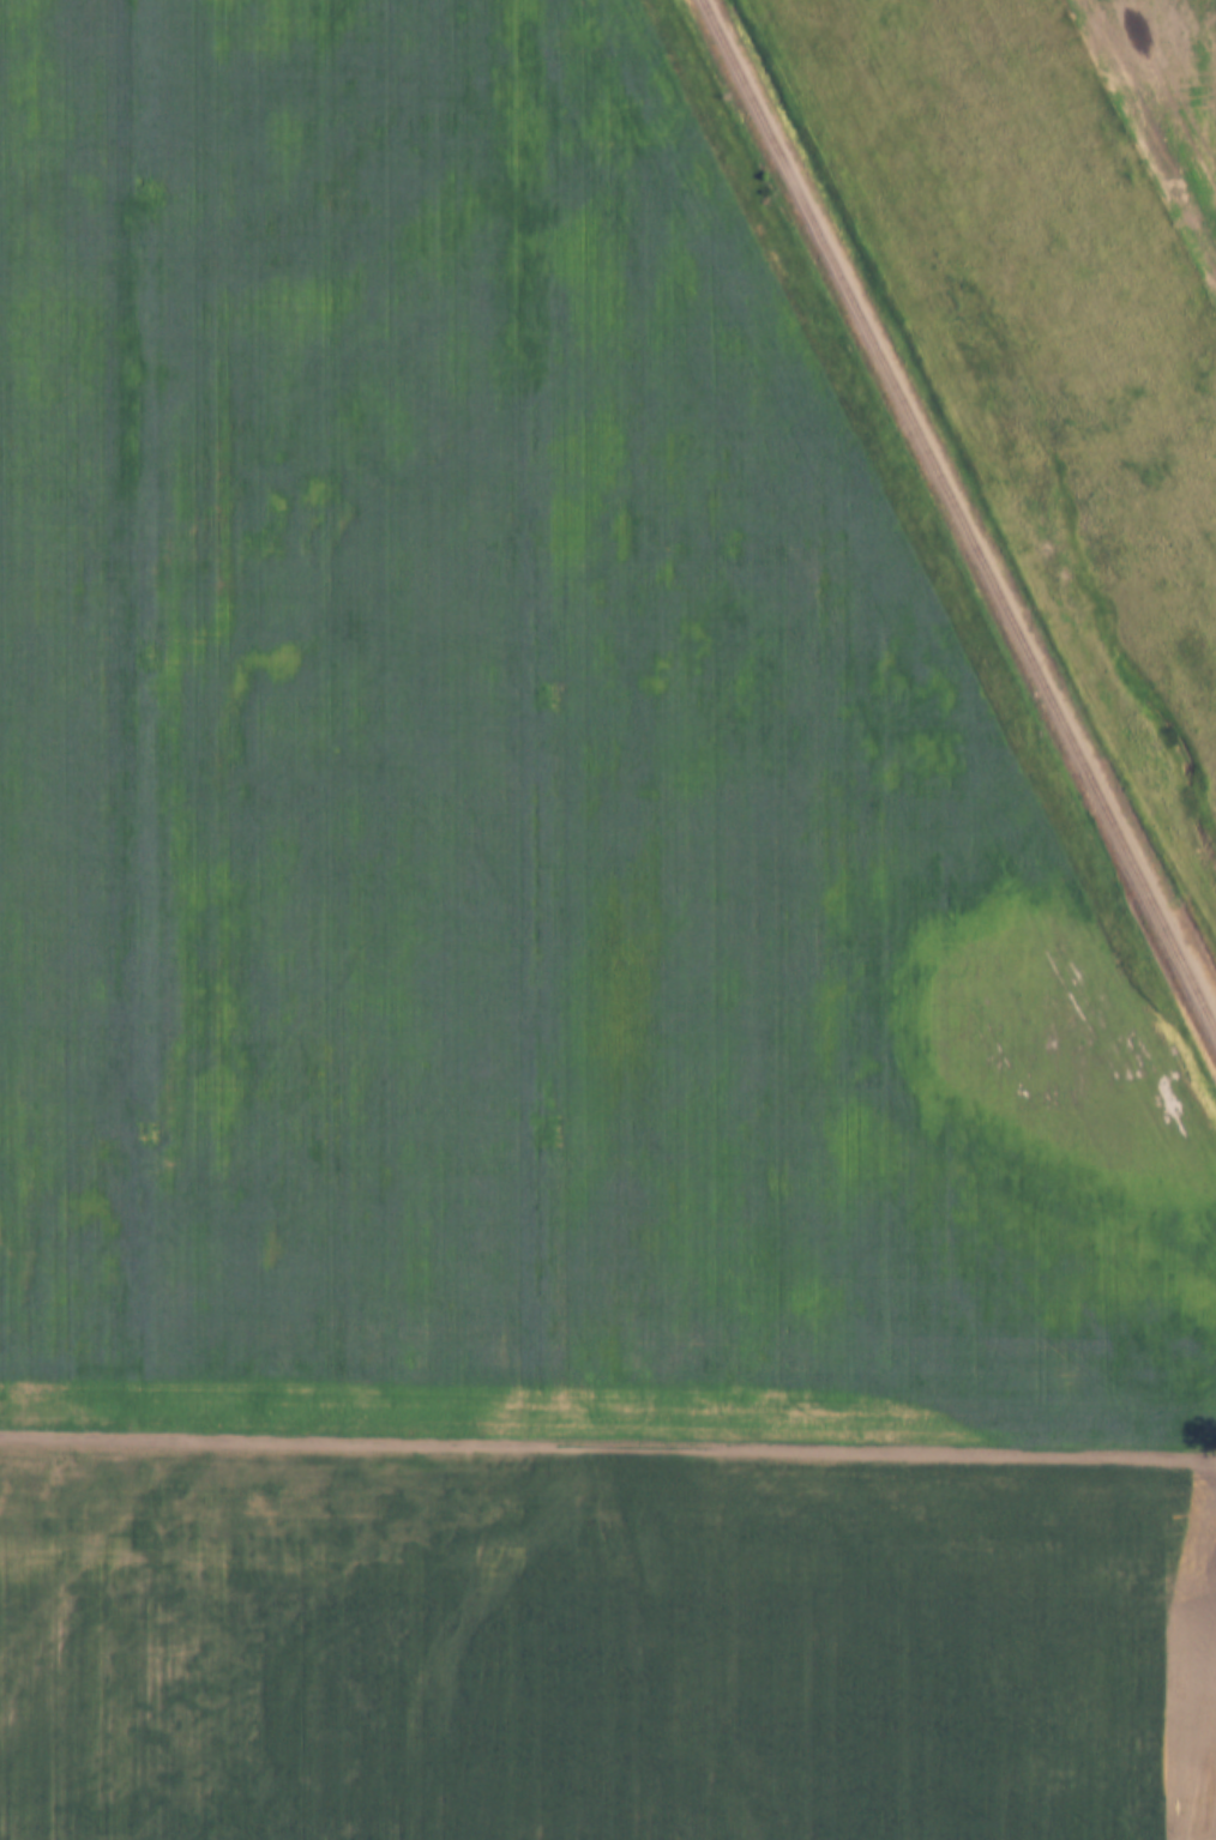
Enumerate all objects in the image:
railway: (957, 519)
road: (608, 1446)

